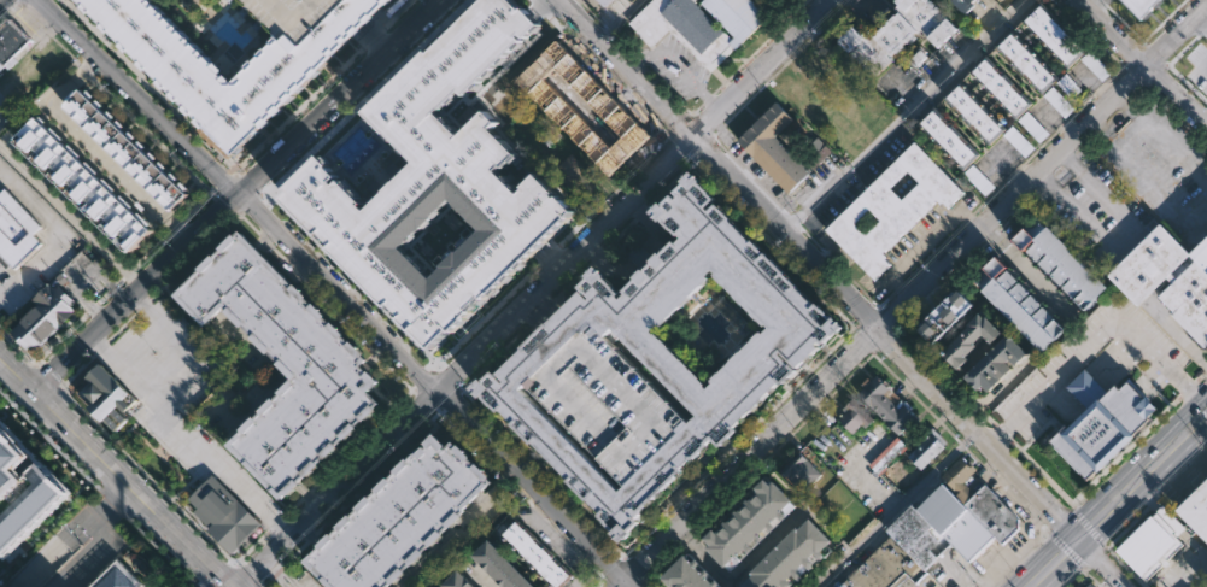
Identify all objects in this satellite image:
road: (0, 0)
building: (1003, 0)
road: (18, 1)
building: (605, 2)
road: (1102, 2)
parking lot: (783, 4)
building: (1155, 4)
building: (966, 5)
road: (1094, 5)
road: (543, 6)
road: (840, 7)
building: (1141, 8)
road: (8, 12)
road: (591, 12)
road: (398, 14)
road: (385, 16)
building: (298, 17)
parking garage: (298, 17)
road: (616, 19)
road: (35, 20)
building: (699, 23)
road: (1206, 24)
road: (609, 30)
road: (1196, 33)
building: (893, 34)
building: (1053, 34)
road: (375, 37)
road: (1144, 37)
road: (374, 40)
road: (1095, 40)
building: (12, 42)
road: (622, 45)
road: (761, 46)
road: (1182, 46)
road: (65, 49)
road: (1148, 53)
road: (1189, 54)
road: (1133, 57)
road: (637, 59)
building: (1026, 61)
road: (1142, 63)
road: (675, 65)
building: (1096, 65)
parking lot: (1096, 65)
building: (181, 66)
road: (625, 67)
road: (762, 67)
road: (84, 69)
road: (84, 70)
road: (1133, 71)
road: (1153, 71)
road: (773, 74)
road: (1179, 78)
road: (151, 83)
building: (1001, 87)
road: (1098, 87)
building: (1072, 88)
parking lot: (1072, 88)
road: (672, 95)
road: (708, 98)
road: (359, 99)
road: (0, 100)
building: (1057, 101)
parking lot: (1057, 101)
road: (1126, 101)
road: (1079, 106)
building: (468, 107)
road: (1168, 107)
road: (298, 108)
building: (974, 112)
road: (900, 113)
road: (691, 115)
road: (1112, 116)
road: (1062, 123)
road: (699, 125)
road: (681, 127)
building: (1032, 127)
parking lot: (1032, 127)
road: (1097, 129)
road: (666, 131)
road: (150, 135)
road: (669, 136)
building: (949, 137)
road: (715, 140)
building: (1018, 141)
parking lot: (1018, 141)
road: (698, 143)
road: (1082, 143)
road: (680, 145)
road: (1039, 145)
building: (774, 148)
road: (96, 151)
building: (127, 152)
road: (1066, 158)
road: (690, 159)
road: (1068, 159)
road: (1055, 169)
road: (1014, 171)
building: (575, 176)
road: (1049, 178)
building: (978, 180)
parking lot: (978, 180)
road: (1045, 180)
road: (223, 183)
building: (83, 186)
road: (761, 187)
building: (434, 189)
road: (236, 195)
road: (253, 195)
road: (258, 195)
road: (988, 196)
road: (198, 205)
road: (219, 205)
road: (1019, 206)
building: (892, 209)
road: (640, 212)
road: (70, 217)
road: (967, 218)
road: (245, 219)
road: (175, 228)
road: (180, 229)
building: (16, 231)
road: (264, 233)
road: (619, 233)
road: (991, 234)
road: (1129, 235)
road: (61, 236)
road: (264, 239)
road: (813, 240)
road: (924, 240)
road: (256, 242)
road: (933, 251)
building: (1201, 251)
road: (150, 252)
road: (277, 252)
road: (597, 254)
road: (549, 256)
road: (189, 258)
road: (641, 258)
road: (832, 259)
road: (281, 263)
building: (1060, 264)
building: (1152, 264)
road: (293, 268)
road: (127, 272)
road: (1029, 275)
road: (219, 278)
road: (572, 280)
road: (118, 281)
road: (900, 286)
road: (111, 287)
road: (334, 290)
road: (1, 293)
road: (866, 294)
road: (101, 297)
road: (908, 297)
building: (1190, 297)
road: (143, 305)
road: (92, 306)
building: (1020, 306)
road: (879, 310)
road: (541, 311)
road: (540, 312)
building: (43, 315)
road: (487, 315)
road: (903, 318)
building: (947, 318)
road: (871, 319)
road: (886, 321)
road: (123, 325)
road: (856, 327)
road: (896, 328)
road: (562, 334)
road: (869, 335)
road: (885, 335)
road: (1100, 336)
road: (837, 341)
building: (972, 342)
road: (100, 347)
road: (873, 347)
road: (193, 351)
road: (43, 353)
building: (666, 357)
road: (465, 362)
road: (910, 362)
building: (285, 365)
building: (997, 365)
road: (277, 371)
road: (1201, 375)
road: (48, 377)
road: (427, 380)
road: (445, 381)
road: (404, 382)
road: (1188, 387)
road: (414, 388)
road: (459, 391)
building: (105, 393)
road: (429, 397)
road: (446, 398)
road: (826, 398)
road: (974, 405)
building: (610, 406)
parking garage: (610, 406)
building: (887, 406)
road: (439, 409)
building: (854, 417)
road: (988, 417)
building: (115, 418)
building: (1103, 423)
road: (456, 428)
road: (1002, 432)
road: (189, 435)
road: (505, 436)
road: (403, 444)
road: (962, 445)
road: (1203, 445)
building: (927, 448)
road: (1196, 453)
road: (973, 456)
road: (270, 459)
road: (1184, 465)
road: (988, 468)
building: (798, 471)
road: (113, 472)
road: (147, 475)
building: (959, 477)
road: (1001, 477)
road: (1095, 479)
road: (1172, 479)
road: (508, 482)
building: (23, 486)
road: (504, 486)
road: (875, 486)
road: (357, 491)
road: (1160, 491)
road: (306, 492)
road: (523, 497)
road: (309, 498)
road: (112, 499)
road: (1023, 499)
road: (1119, 500)
road: (113, 503)
road: (1149, 503)
road: (292, 506)
building: (943, 507)
road: (538, 510)
road: (895, 510)
building: (1196, 510)
building: (994, 513)
building: (224, 515)
road: (1041, 517)
building: (403, 520)
building: (746, 520)
road: (275, 522)
road: (1045, 526)
road: (1089, 528)
road: (558, 532)
road: (310, 535)
building: (969, 535)
road: (311, 536)
road: (685, 536)
building: (919, 536)
road: (451, 538)
road: (550, 538)
building: (1153, 542)
road: (767, 544)
road: (1112, 547)
road: (1065, 548)
road: (160, 551)
road: (578, 551)
road: (295, 552)
road: (88, 553)
building: (538, 556)
road: (703, 556)
building: (790, 556)
road: (1095, 556)
road: (1020, 559)
road: (656, 564)
road: (591, 565)
road: (627, 565)
road: (339, 567)
building: (499, 567)
building: (886, 568)
road: (277, 570)
road: (613, 570)
building: (690, 573)
road: (246, 574)
road: (276, 575)
road: (1071, 575)
building: (116, 576)
road: (225, 576)
road: (1091, 576)
road: (481, 579)
road: (600, 580)
road: (635, 580)
parking lot: (304, 581)
building: (457, 581)
road: (266, 582)
road: (597, 582)
road: (607, 583)
road: (574, 586)
building: (1089, 586)

